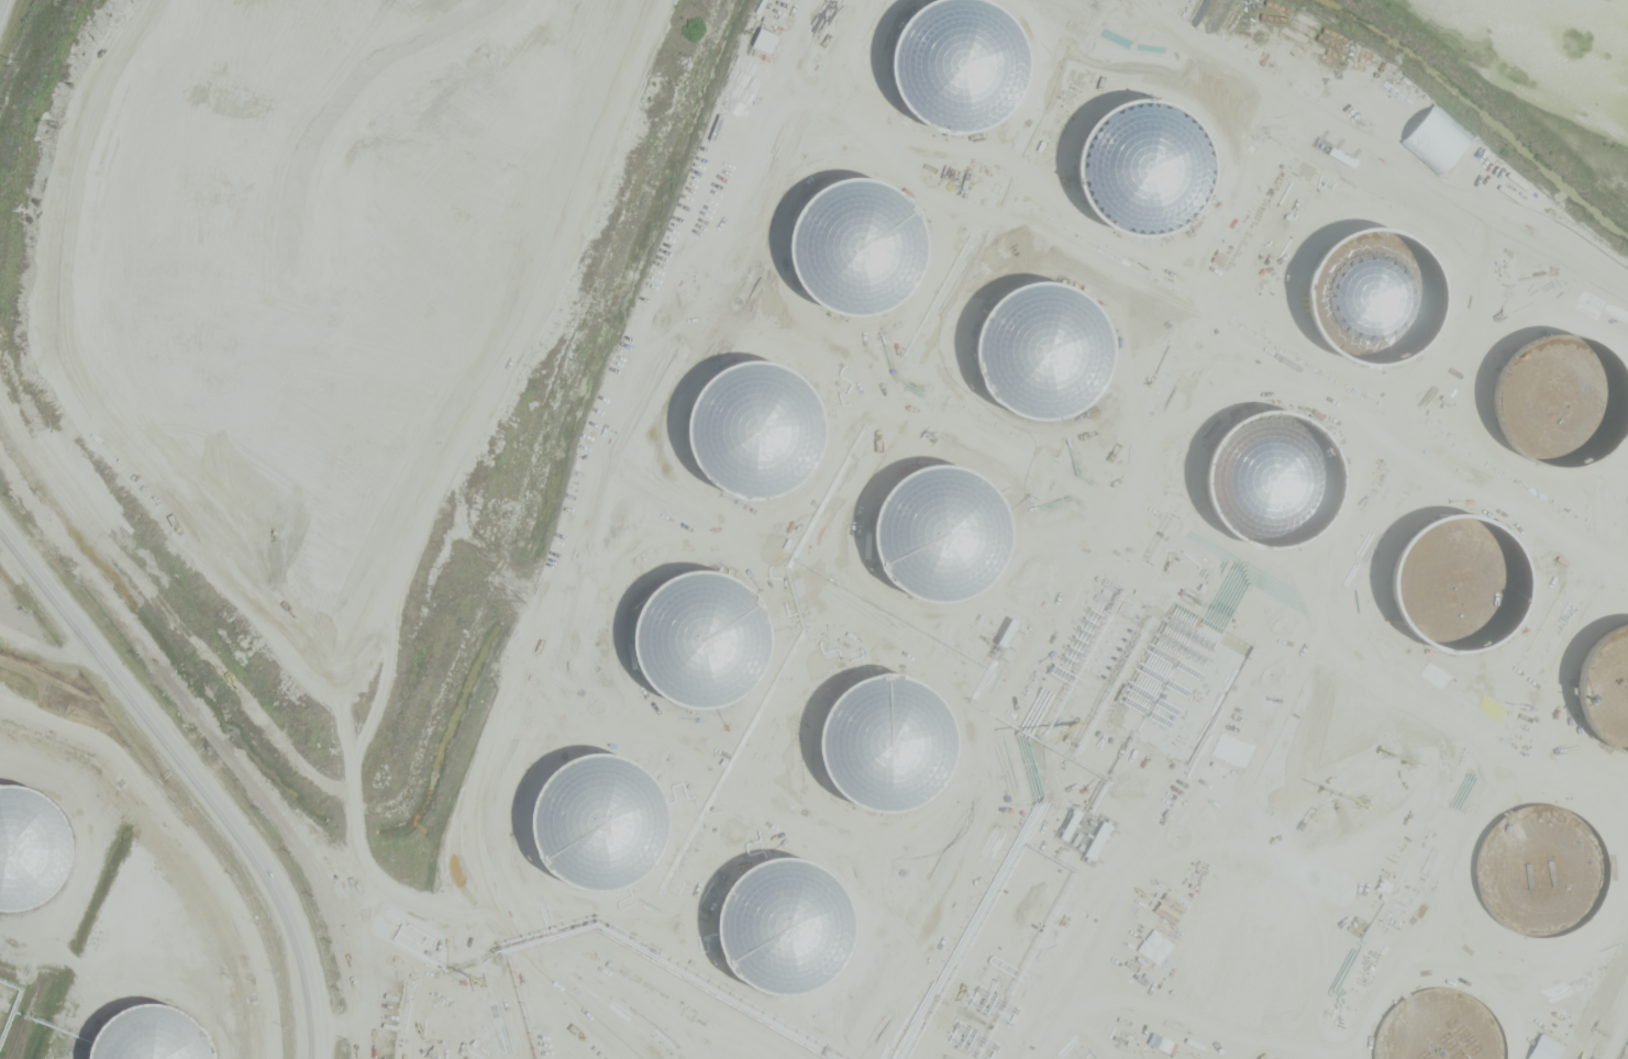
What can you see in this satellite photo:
building: (767, 40)
building: (735, 107)
building: (837, 545)
building: (1479, 546)
road: (46, 644)
building: (531, 644)
building: (642, 742)
road: (198, 774)
building: (675, 840)
building: (744, 905)
road: (617, 945)
building: (646, 973)
building: (721, 1015)
road: (617, 1021)
building: (603, 1052)
building: (751, 1058)

